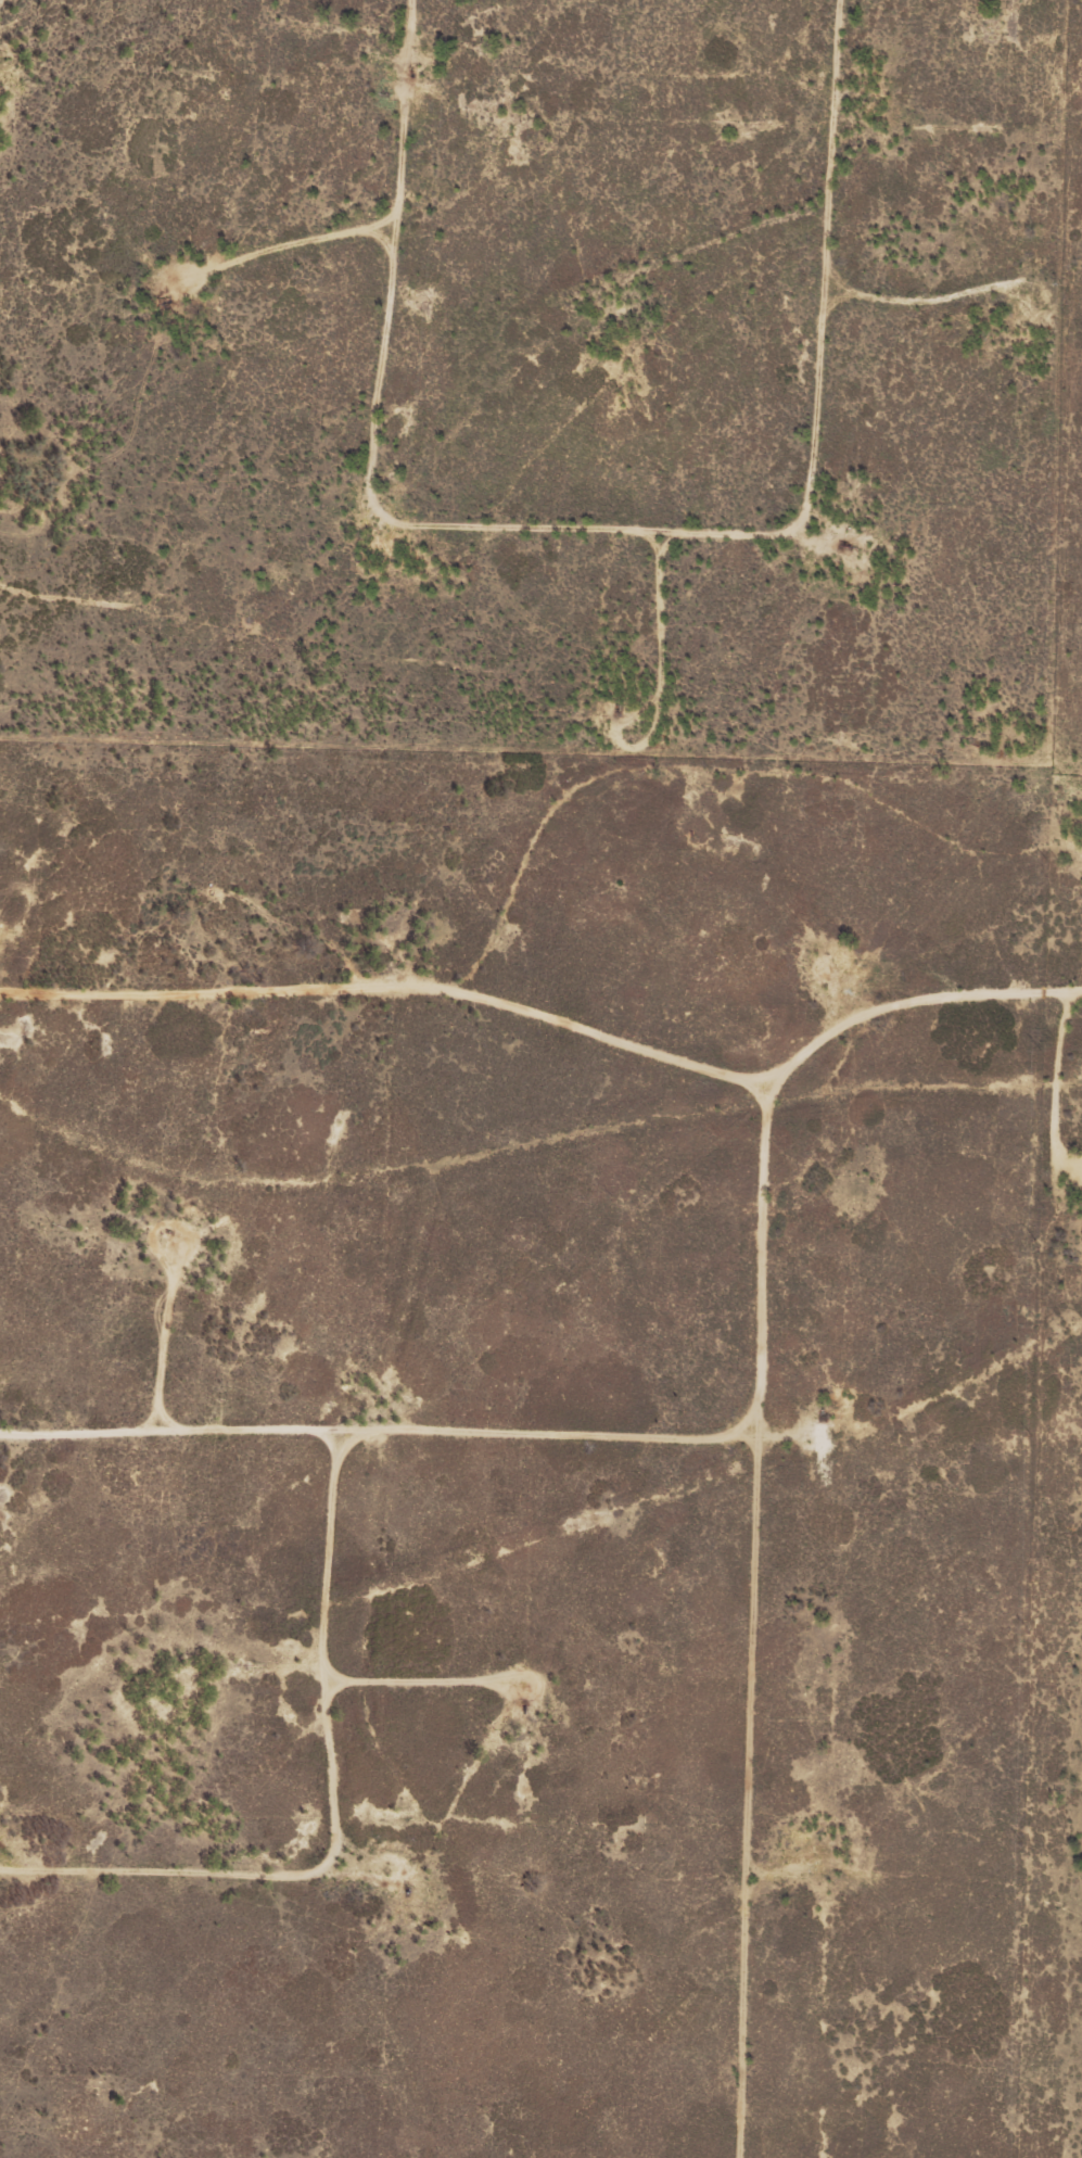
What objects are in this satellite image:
road: (229, 85)
road: (28, 253)
road: (447, 258)
road: (697, 555)
road: (979, 613)
road: (734, 800)
road: (560, 997)
road: (407, 1425)
road: (807, 1623)
road: (394, 1844)

